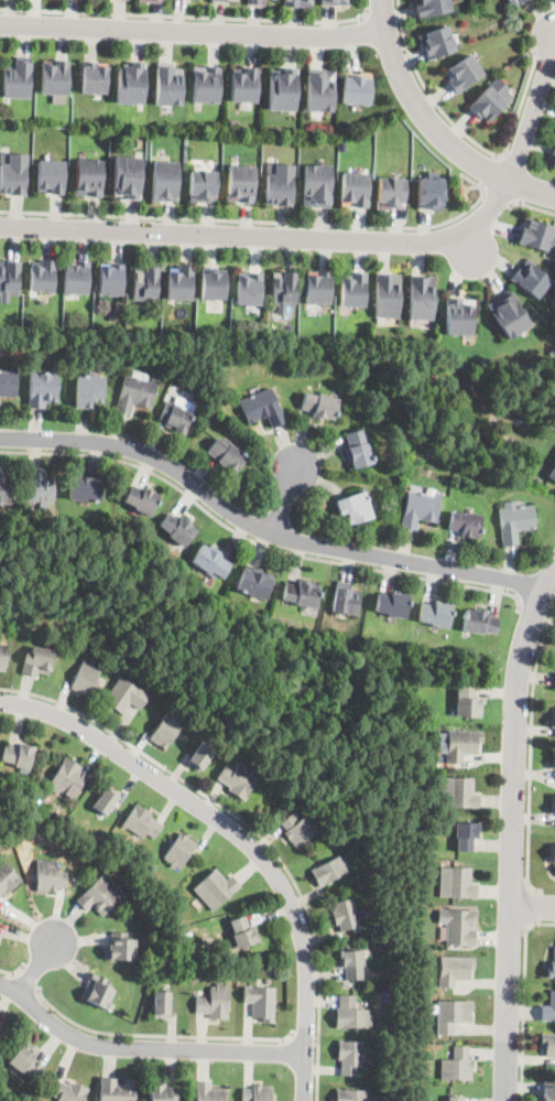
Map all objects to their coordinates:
building: (151, 0)
building: (221, 0)
building: (233, 0)
building: (521, 0)
building: (257, 1)
building: (334, 1)
building: (298, 2)
building: (511, 2)
building: (431, 7)
road: (384, 12)
road: (187, 17)
road: (192, 32)
building: (436, 41)
building: (463, 72)
building: (54, 76)
building: (94, 76)
building: (18, 77)
building: (131, 83)
building: (168, 84)
building: (206, 84)
building: (244, 84)
building: (357, 87)
building: (283, 88)
building: (320, 89)
building: (490, 98)
road: (417, 107)
road: (466, 133)
building: (553, 156)
road: (490, 170)
building: (13, 172)
building: (51, 175)
building: (88, 176)
building: (127, 176)
building: (165, 180)
building: (240, 182)
building: (279, 182)
building: (202, 184)
building: (317, 184)
road: (530, 186)
building: (355, 188)
building: (429, 191)
building: (391, 192)
road: (498, 197)
road: (531, 205)
road: (263, 223)
building: (537, 234)
road: (344, 239)
building: (44, 276)
building: (76, 276)
building: (110, 278)
building: (531, 278)
building: (9, 279)
building: (145, 281)
building: (181, 281)
building: (214, 282)
building: (249, 288)
building: (318, 288)
building: (283, 289)
building: (352, 289)
building: (388, 294)
building: (422, 295)
building: (509, 314)
building: (112, 315)
building: (460, 315)
building: (414, 321)
building: (552, 353)
building: (486, 360)
building: (534, 366)
building: (9, 384)
building: (175, 384)
building: (43, 389)
building: (90, 391)
building: (137, 395)
building: (319, 406)
building: (262, 408)
building: (521, 415)
building: (176, 418)
building: (359, 449)
building: (228, 456)
building: (554, 463)
building: (552, 474)
building: (86, 488)
building: (40, 489)
building: (6, 490)
building: (141, 500)
road: (282, 500)
building: (355, 508)
building: (420, 509)
building: (515, 521)
building: (466, 523)
building: (177, 529)
road: (262, 529)
road: (257, 542)
building: (213, 562)
building: (254, 582)
building: (302, 593)
building: (345, 600)
building: (393, 605)
road: (537, 609)
building: (436, 614)
building: (479, 622)
building: (2, 657)
building: (36, 662)
building: (84, 678)
building: (554, 686)
building: (122, 697)
building: (465, 700)
building: (553, 717)
building: (164, 731)
building: (459, 744)
road: (532, 753)
building: (17, 754)
building: (197, 757)
building: (553, 757)
building: (64, 777)
building: (236, 780)
building: (456, 792)
building: (102, 801)
building: (554, 805)
building: (140, 821)
road: (251, 829)
building: (298, 829)
road: (512, 832)
building: (124, 835)
building: (464, 835)
road: (240, 839)
building: (177, 850)
building: (553, 854)
building: (328, 871)
building: (50, 876)
building: (7, 879)
building: (455, 883)
building: (215, 888)
building: (101, 895)
road: (532, 905)
road: (535, 907)
building: (347, 916)
building: (457, 927)
building: (243, 933)
building: (120, 949)
building: (187, 949)
building: (351, 964)
road: (34, 970)
building: (451, 970)
building: (551, 970)
road: (13, 972)
road: (30, 980)
building: (97, 991)
building: (385, 994)
road: (524, 1000)
building: (213, 1003)
building: (261, 1003)
building: (159, 1005)
building: (548, 1010)
building: (351, 1014)
building: (450, 1015)
building: (0, 1029)
road: (161, 1035)
road: (305, 1040)
building: (548, 1045)
road: (143, 1047)
building: (350, 1057)
building: (25, 1062)
building: (456, 1065)
building: (426, 1067)
building: (116, 1090)
building: (66, 1091)
building: (162, 1092)
building: (208, 1092)
building: (547, 1092)
building: (257, 1093)
building: (352, 1095)
building: (451, 1099)

